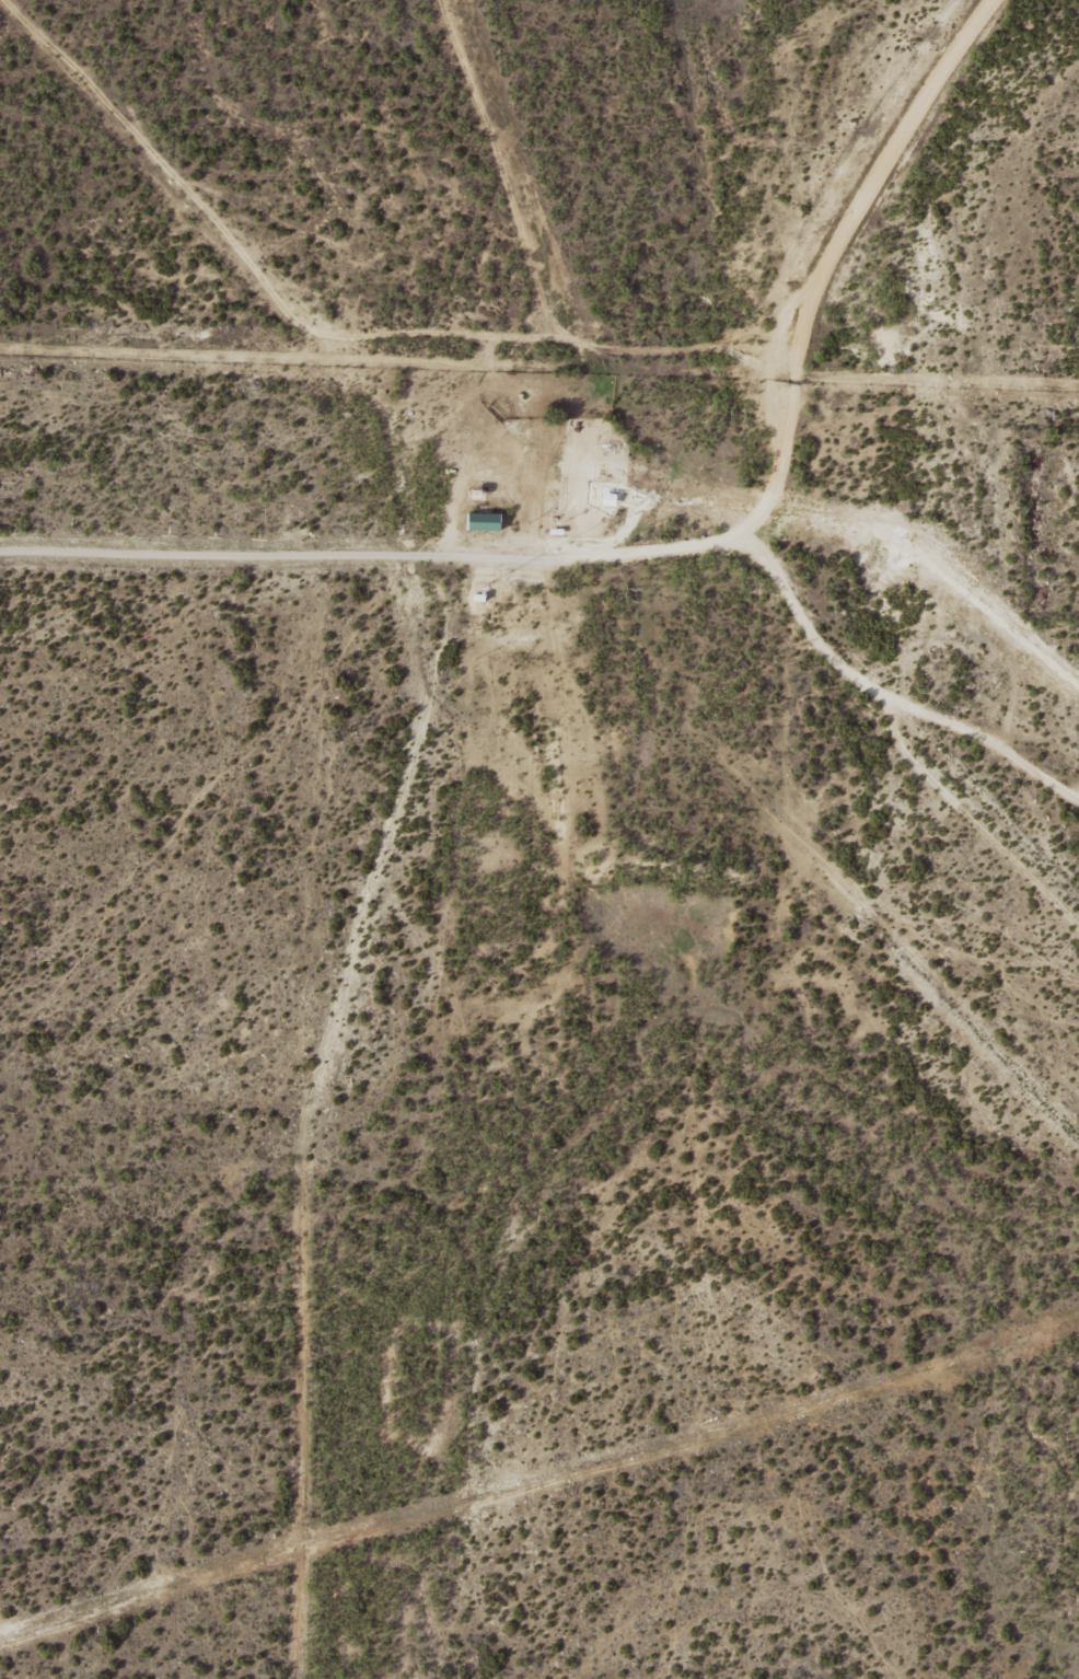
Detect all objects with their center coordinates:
building: (595, 472)
building: (486, 521)
road: (663, 545)
road: (332, 1109)

